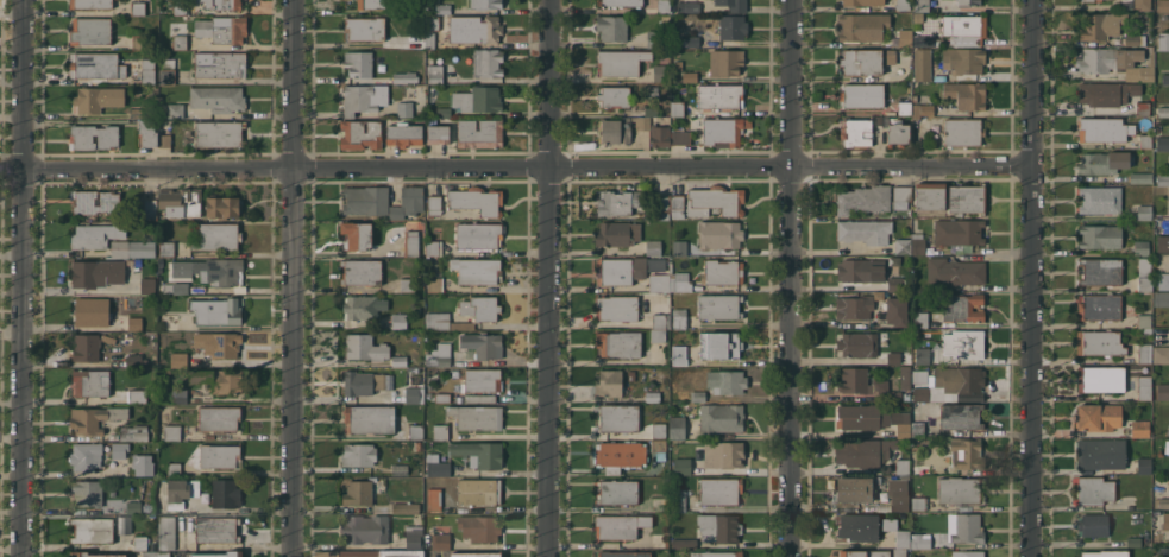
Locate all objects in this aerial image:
building: (1092, 0)
building: (620, 2)
building: (862, 2)
building: (967, 2)
building: (90, 4)
building: (225, 4)
building: (373, 4)
building: (485, 4)
building: (903, 4)
building: (1142, 4)
building: (734, 5)
building: (920, 5)
building: (662, 6)
building: (687, 6)
building: (1162, 6)
building: (137, 7)
building: (177, 7)
building: (413, 7)
building: (442, 8)
building: (665, 18)
building: (938, 21)
building: (966, 25)
building: (1100, 25)
building: (731, 26)
building: (861, 26)
building: (365, 27)
building: (433, 27)
building: (473, 27)
building: (611, 27)
building: (221, 29)
building: (90, 30)
building: (177, 33)
building: (904, 37)
building: (653, 38)
building: (691, 39)
building: (1131, 39)
building: (922, 40)
building: (1163, 40)
building: (139, 42)
building: (907, 49)
building: (963, 58)
building: (1107, 58)
building: (866, 59)
building: (488, 62)
building: (620, 62)
building: (725, 62)
building: (358, 63)
building: (922, 63)
building: (95, 64)
building: (219, 64)
building: (661, 69)
building: (147, 70)
building: (166, 71)
building: (1145, 72)
building: (433, 74)
building: (404, 76)
building: (690, 76)
building: (1165, 78)
building: (649, 91)
building: (408, 93)
building: (666, 94)
building: (966, 94)
building: (1099, 94)
building: (719, 95)
building: (862, 95)
building: (614, 96)
building: (96, 97)
building: (216, 97)
building: (363, 97)
building: (477, 99)
building: (904, 107)
building: (404, 108)
building: (678, 108)
building: (1143, 108)
building: (923, 109)
building: (175, 110)
building: (643, 110)
building: (1163, 110)
building: (442, 112)
building: (139, 113)
building: (641, 122)
building: (920, 124)
building: (859, 129)
building: (1104, 129)
building: (614, 131)
building: (722, 131)
building: (962, 131)
building: (479, 132)
building: (895, 132)
building: (146, 133)
building: (219, 133)
building: (403, 133)
building: (438, 133)
building: (360, 134)
building: (659, 135)
building: (679, 135)
building: (81, 138)
building: (164, 140)
building: (1146, 140)
building: (1162, 143)
building: (1102, 162)
road: (515, 166)
building: (1140, 177)
building: (1163, 179)
building: (1168, 191)
building: (900, 196)
building: (929, 196)
building: (862, 198)
building: (967, 198)
building: (1099, 198)
building: (365, 200)
building: (476, 200)
building: (95, 201)
building: (715, 201)
building: (181, 202)
building: (408, 202)
building: (617, 202)
building: (433, 204)
building: (222, 205)
building: (662, 205)
building: (677, 205)
building: (150, 209)
building: (1144, 211)
building: (138, 224)
building: (863, 230)
building: (957, 232)
building: (617, 233)
building: (357, 234)
building: (718, 234)
building: (93, 235)
building: (216, 235)
building: (478, 235)
building: (1099, 236)
building: (410, 241)
building: (917, 243)
building: (1163, 243)
building: (903, 245)
building: (433, 247)
building: (653, 247)
building: (679, 247)
building: (1140, 247)
building: (132, 248)
building: (166, 248)
building: (159, 265)
building: (627, 268)
building: (208, 270)
building: (476, 270)
building: (854, 270)
building: (360, 271)
building: (954, 271)
building: (1100, 271)
building: (96, 272)
building: (721, 272)
building: (1144, 274)
road: (24, 278)
road: (291, 278)
road: (546, 278)
road: (786, 278)
road: (1032, 278)
building: (1163, 280)
building: (658, 281)
building: (679, 281)
building: (407, 284)
building: (434, 284)
building: (894, 284)
building: (147, 285)
building: (175, 287)
building: (1161, 298)
building: (364, 305)
building: (718, 305)
building: (853, 306)
building: (962, 306)
building: (1099, 306)
building: (617, 308)
building: (215, 310)
building: (92, 311)
building: (895, 311)
building: (466, 314)
building: (679, 317)
building: (920, 318)
building: (398, 319)
building: (1144, 319)
building: (660, 321)
building: (140, 323)
building: (659, 334)
building: (126, 337)
building: (1101, 342)
building: (152, 343)
building: (618, 343)
building: (719, 343)
building: (857, 343)
building: (963, 343)
building: (225, 344)
building: (482, 344)
building: (86, 347)
building: (365, 347)
building: (1144, 353)
building: (439, 354)
building: (1161, 354)
building: (678, 355)
building: (920, 355)
building: (892, 357)
building: (136, 360)
building: (178, 360)
building: (397, 360)
building: (455, 373)
building: (900, 374)
building: (631, 375)
building: (959, 378)
building: (218, 379)
building: (725, 379)
building: (1100, 379)
building: (410, 380)
building: (480, 380)
building: (854, 380)
building: (90, 381)
building: (362, 381)
building: (608, 382)
building: (1143, 387)
building: (1163, 391)
building: (673, 393)
building: (920, 393)
building: (413, 394)
building: (697, 394)
building: (137, 395)
building: (180, 395)
building: (652, 395)
building: (893, 395)
building: (439, 397)
building: (479, 398)
building: (476, 416)
building: (859, 416)
building: (960, 416)
building: (1096, 416)
building: (94, 417)
building: (219, 417)
building: (617, 417)
building: (719, 417)
building: (369, 418)
building: (677, 426)
building: (917, 428)
building: (1139, 428)
building: (658, 429)
building: (415, 430)
building: (903, 430)
building: (171, 431)
building: (440, 431)
building: (133, 432)
building: (416, 444)
building: (658, 448)
building: (119, 449)
building: (863, 451)
building: (478, 452)
building: (964, 452)
building: (1100, 452)
building: (358, 454)
building: (719, 454)
building: (84, 455)
building: (219, 455)
building: (618, 455)
building: (142, 464)
building: (1143, 464)
building: (436, 466)
building: (680, 466)
building: (901, 466)
building: (172, 468)
building: (398, 469)
building: (853, 488)
building: (719, 489)
building: (960, 489)
building: (1094, 489)
building: (180, 490)
building: (478, 490)
building: (87, 492)
building: (358, 492)
building: (616, 492)
building: (225, 493)
building: (898, 494)
building: (433, 498)
building: (678, 500)
building: (1161, 501)
building: (917, 502)
building: (133, 506)
building: (404, 507)
building: (1165, 520)
building: (1092, 524)
building: (620, 525)
building: (857, 526)
building: (478, 527)
building: (719, 527)
building: (216, 528)
building: (365, 528)
building: (967, 528)
building: (92, 530)
building: (897, 531)
building: (166, 532)
building: (414, 537)
building: (440, 540)
building: (1132, 540)
building: (139, 542)
building: (920, 542)
building: (683, 543)
building: (1163, 550)
building: (863, 552)
building: (899, 552)
building: (150, 553)
building: (163, 553)
building: (369, 553)
building: (474, 553)
building: (622, 553)
building: (716, 553)
building: (967, 553)
building: (1104, 553)
building: (94, 555)
building: (218, 555)

